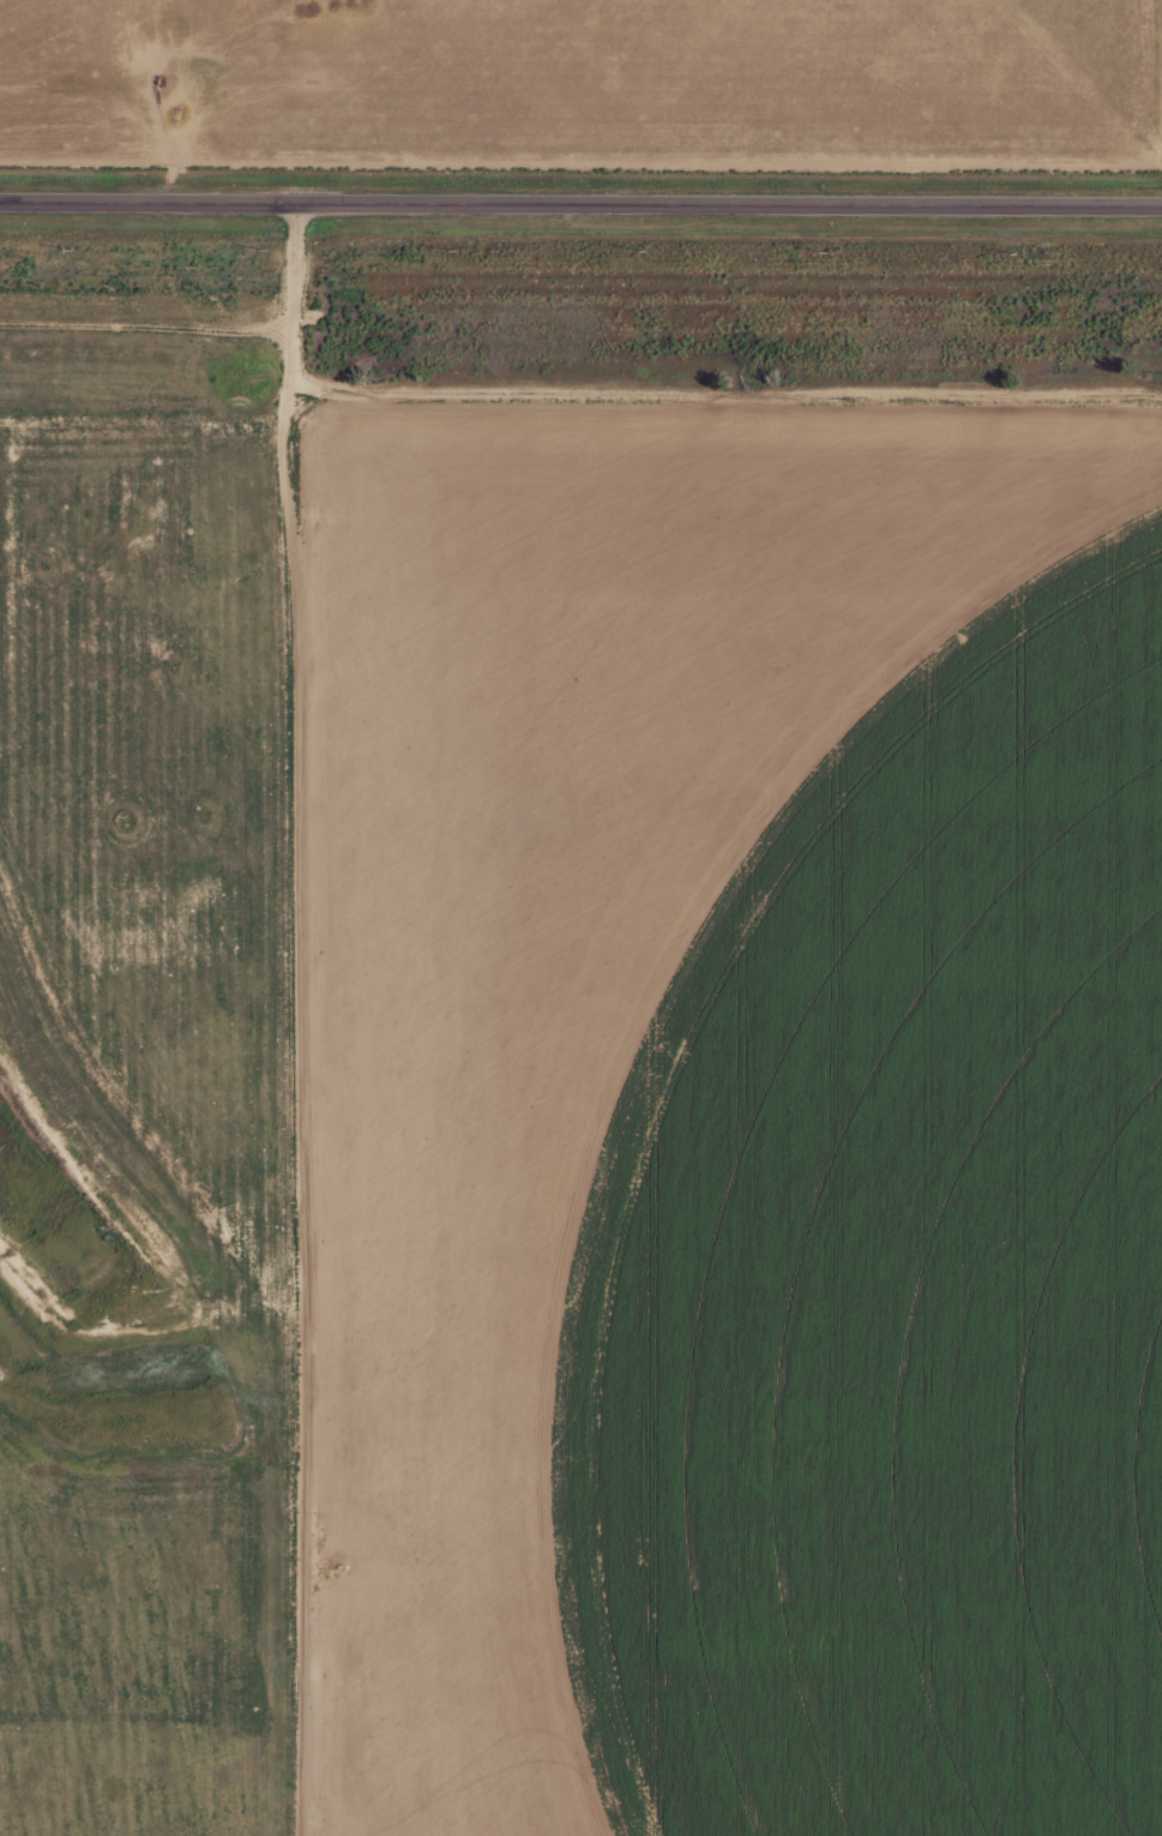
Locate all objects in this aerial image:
road: (580, 203)

